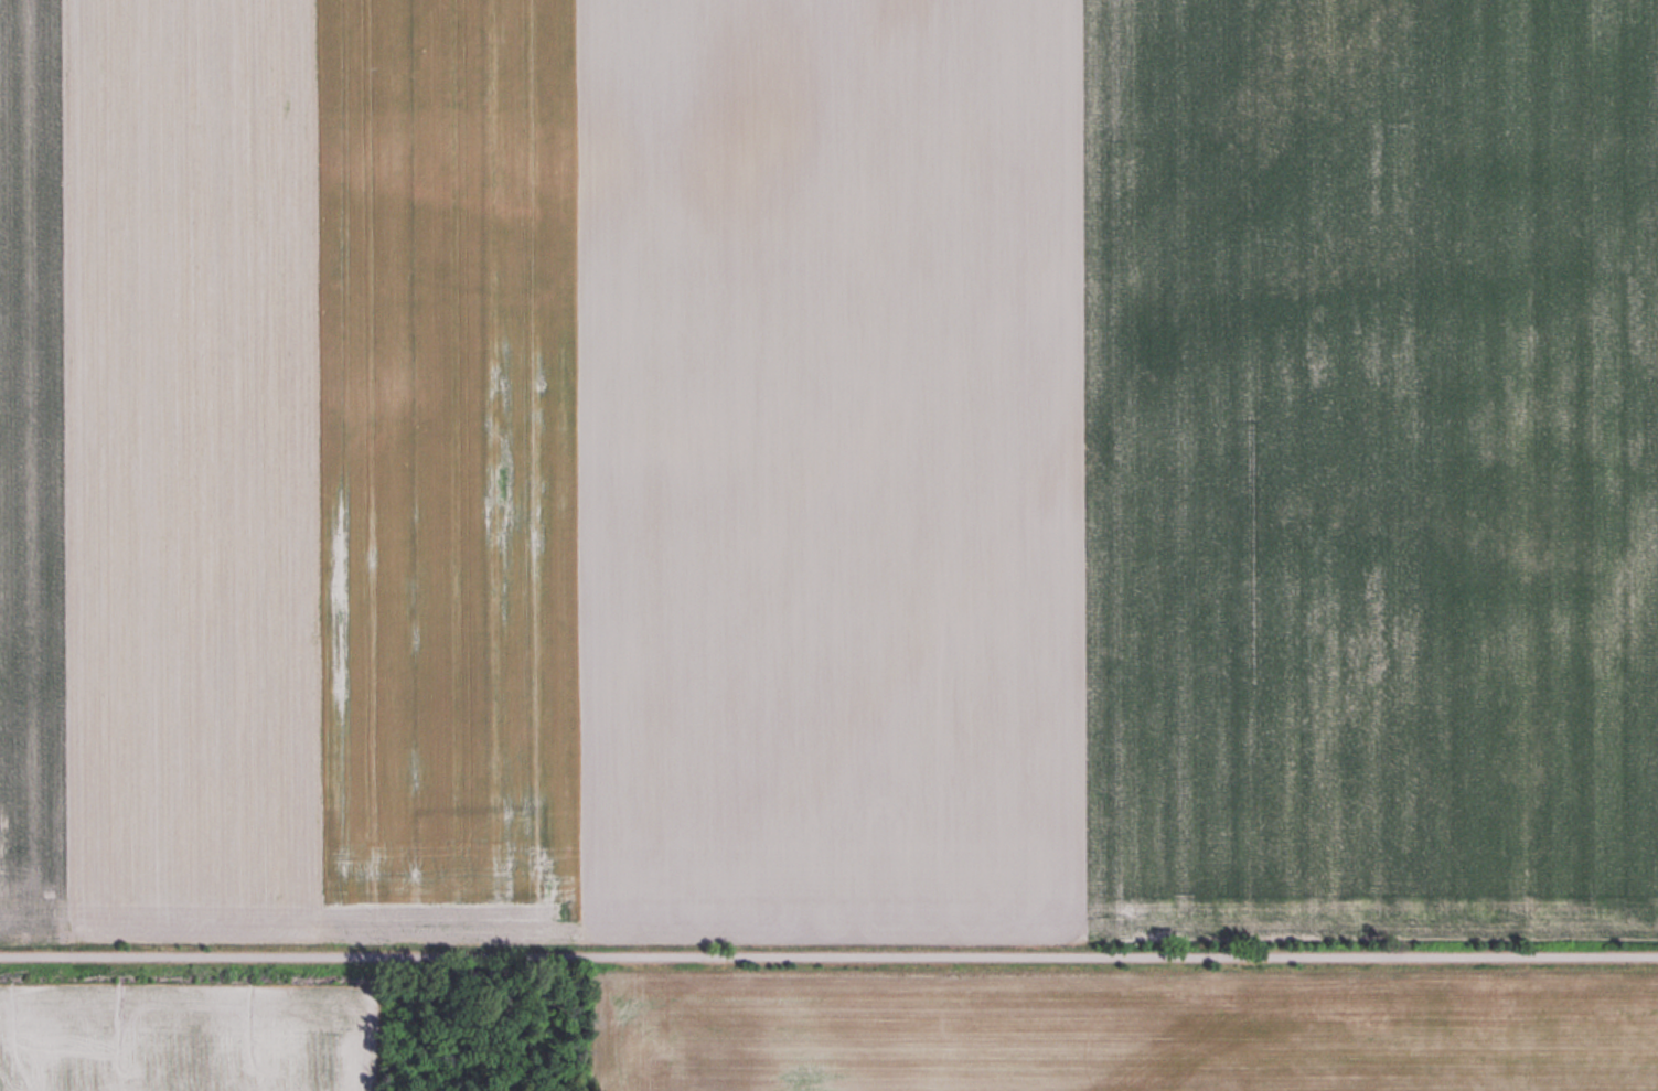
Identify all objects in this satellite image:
road: (828, 955)

